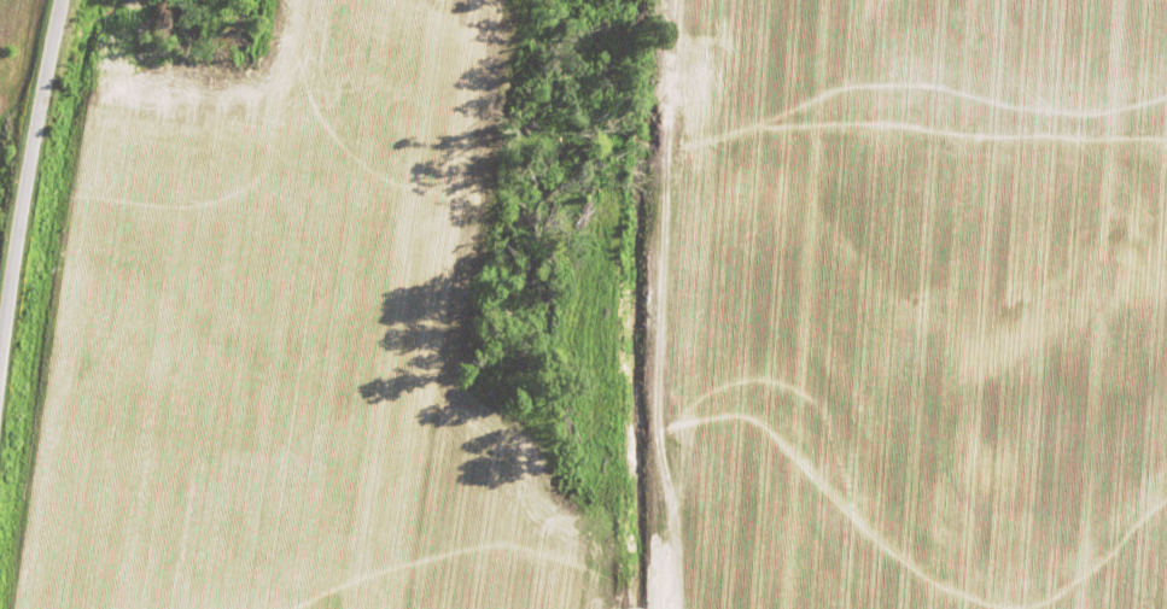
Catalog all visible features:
road: (30, 217)

